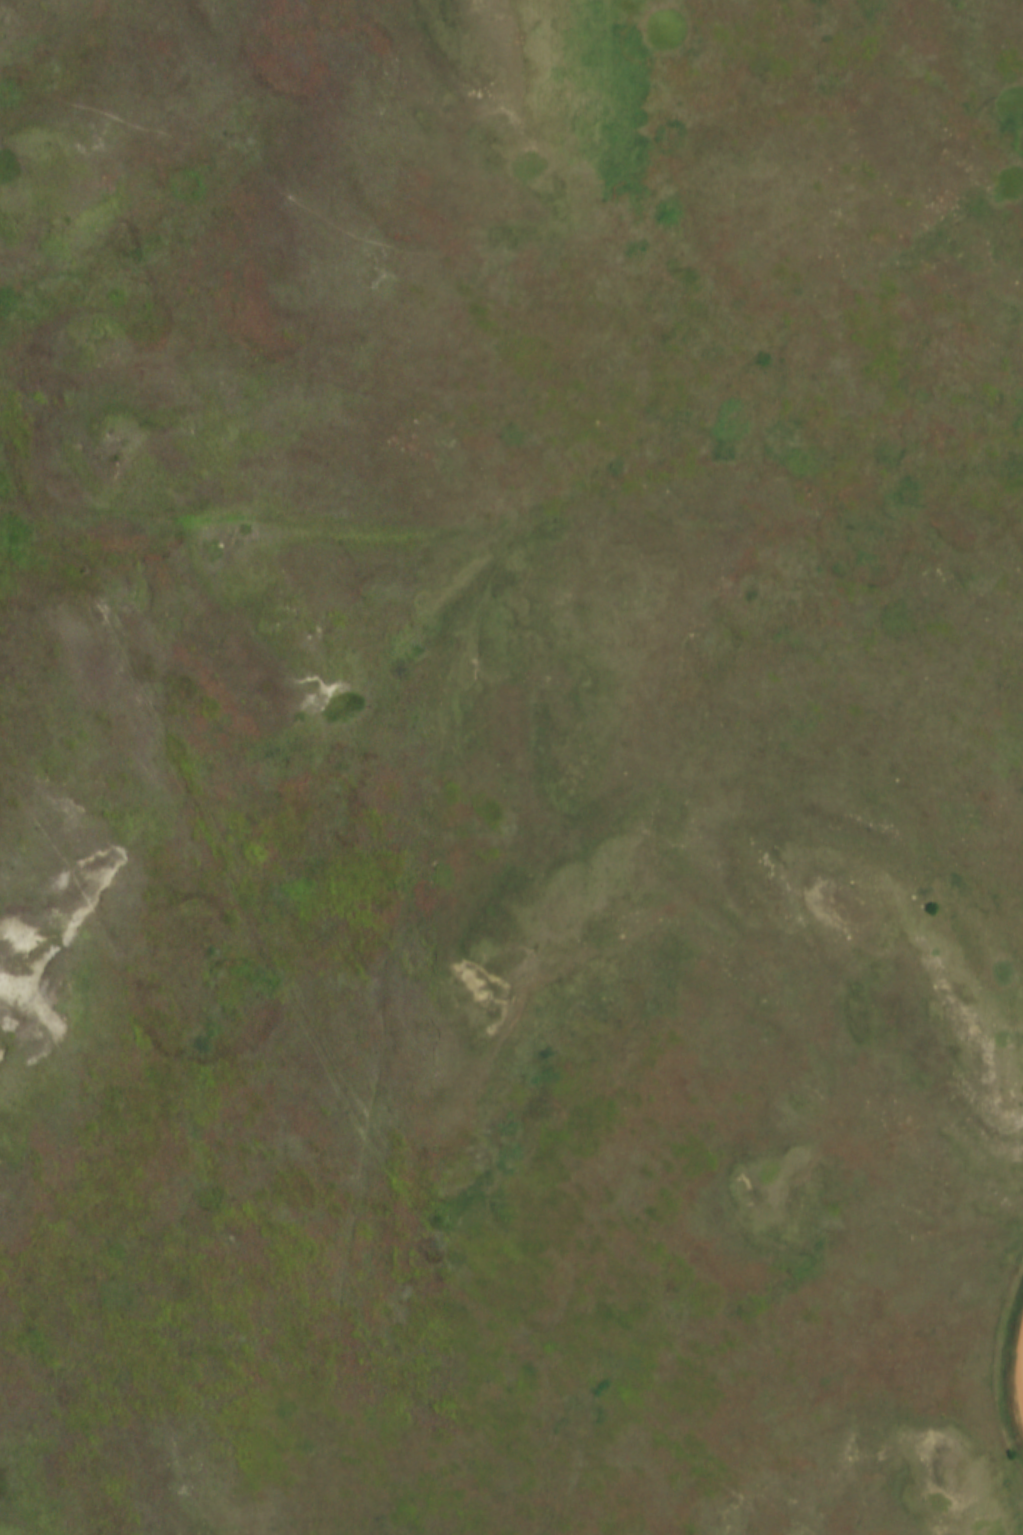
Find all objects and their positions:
road: (1021, 1365)

